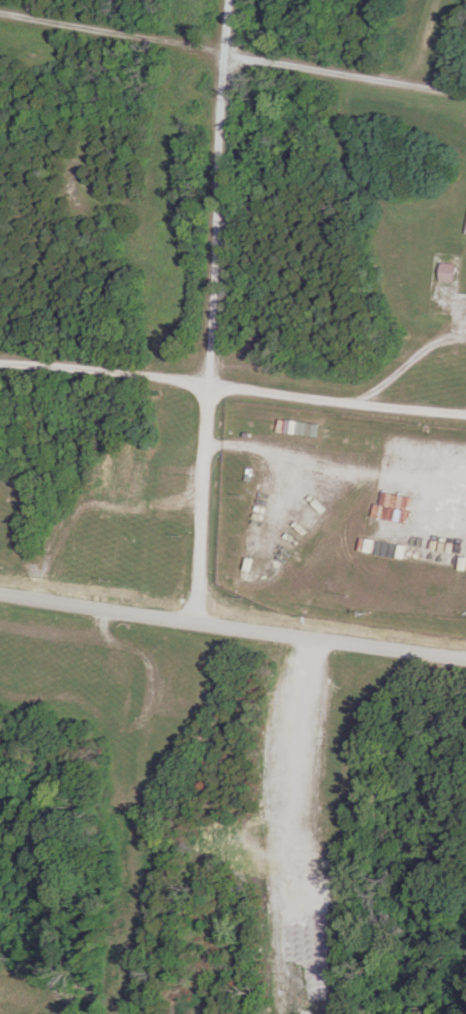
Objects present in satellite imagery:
road: (232, 54)
road: (210, 311)
road: (407, 360)
road: (232, 388)
road: (232, 628)

